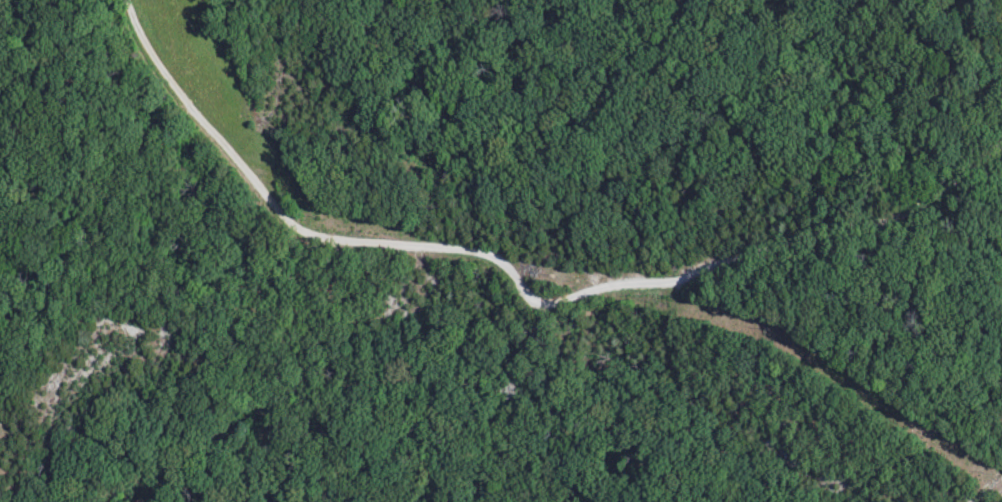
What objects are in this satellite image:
road: (518, 280)

